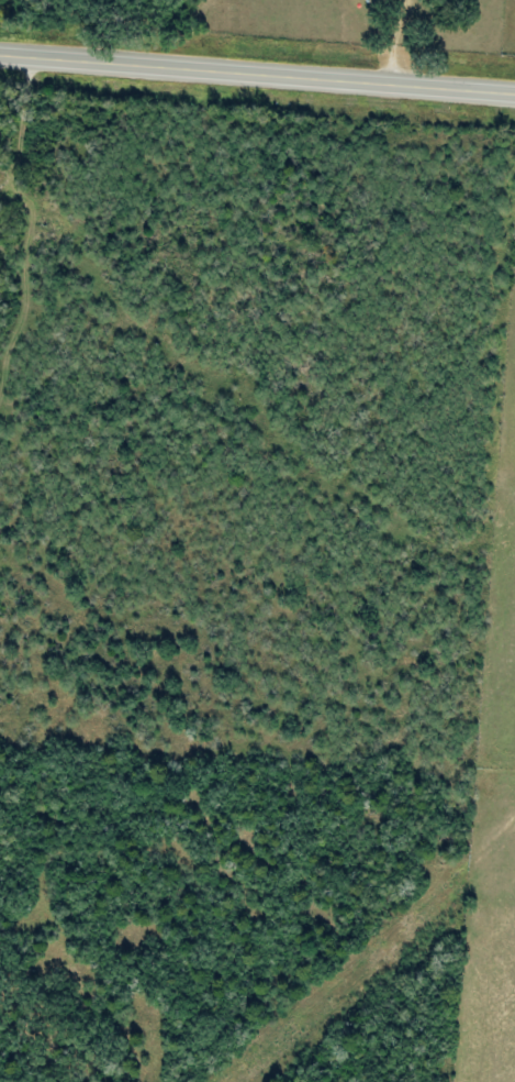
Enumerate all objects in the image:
road: (257, 71)

